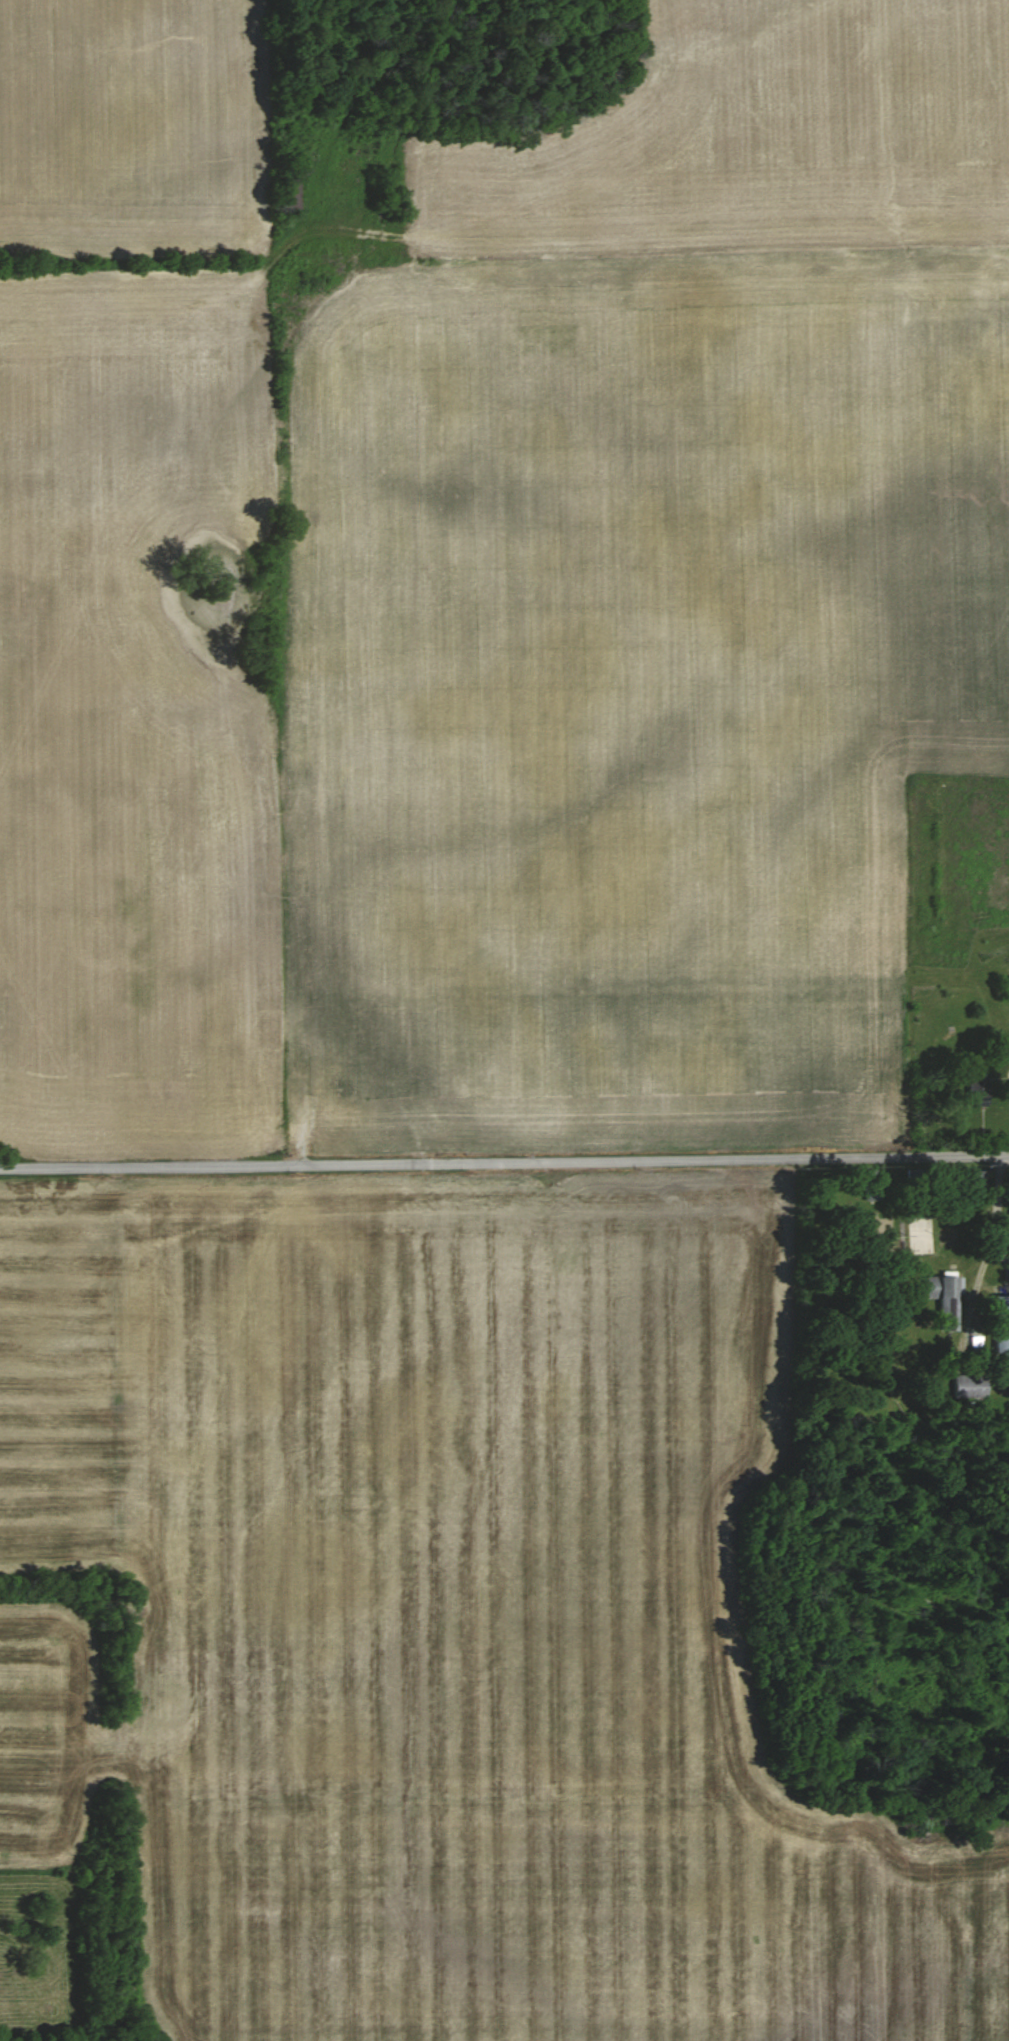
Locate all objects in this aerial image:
road: (395, 24)
road: (441, 38)
road: (364, 73)
building: (286, 193)
road: (312, 198)
building: (973, 1091)
road: (504, 1163)
building: (976, 1178)
building: (869, 1184)
road: (995, 1214)
building: (942, 1300)
building: (1000, 1324)
building: (967, 1385)

